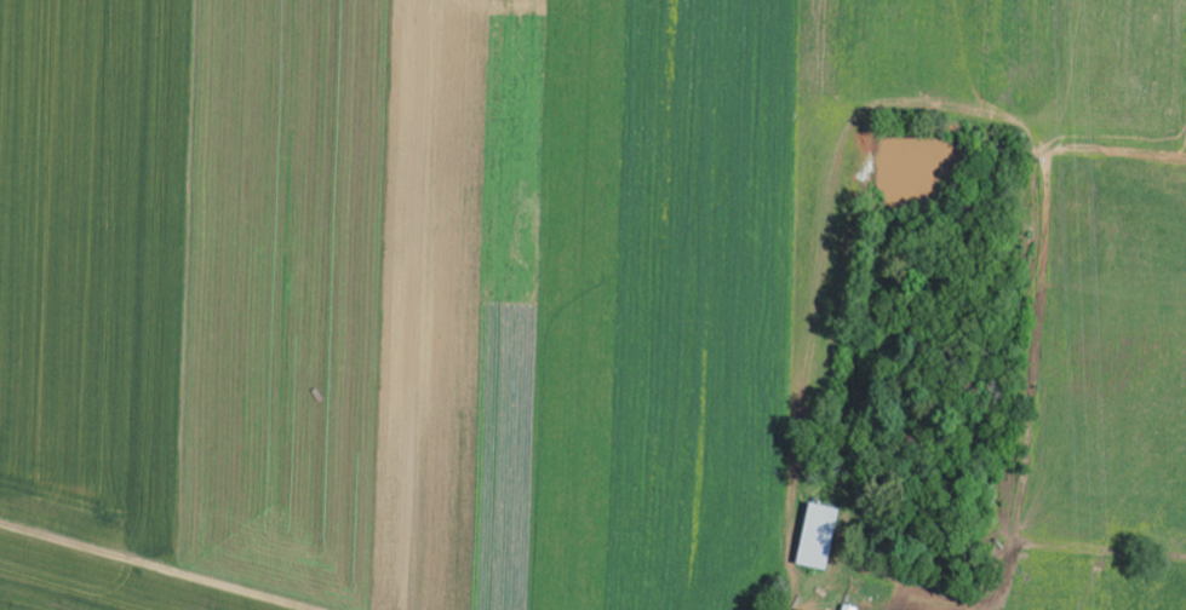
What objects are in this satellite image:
building: (818, 536)
building: (848, 608)

